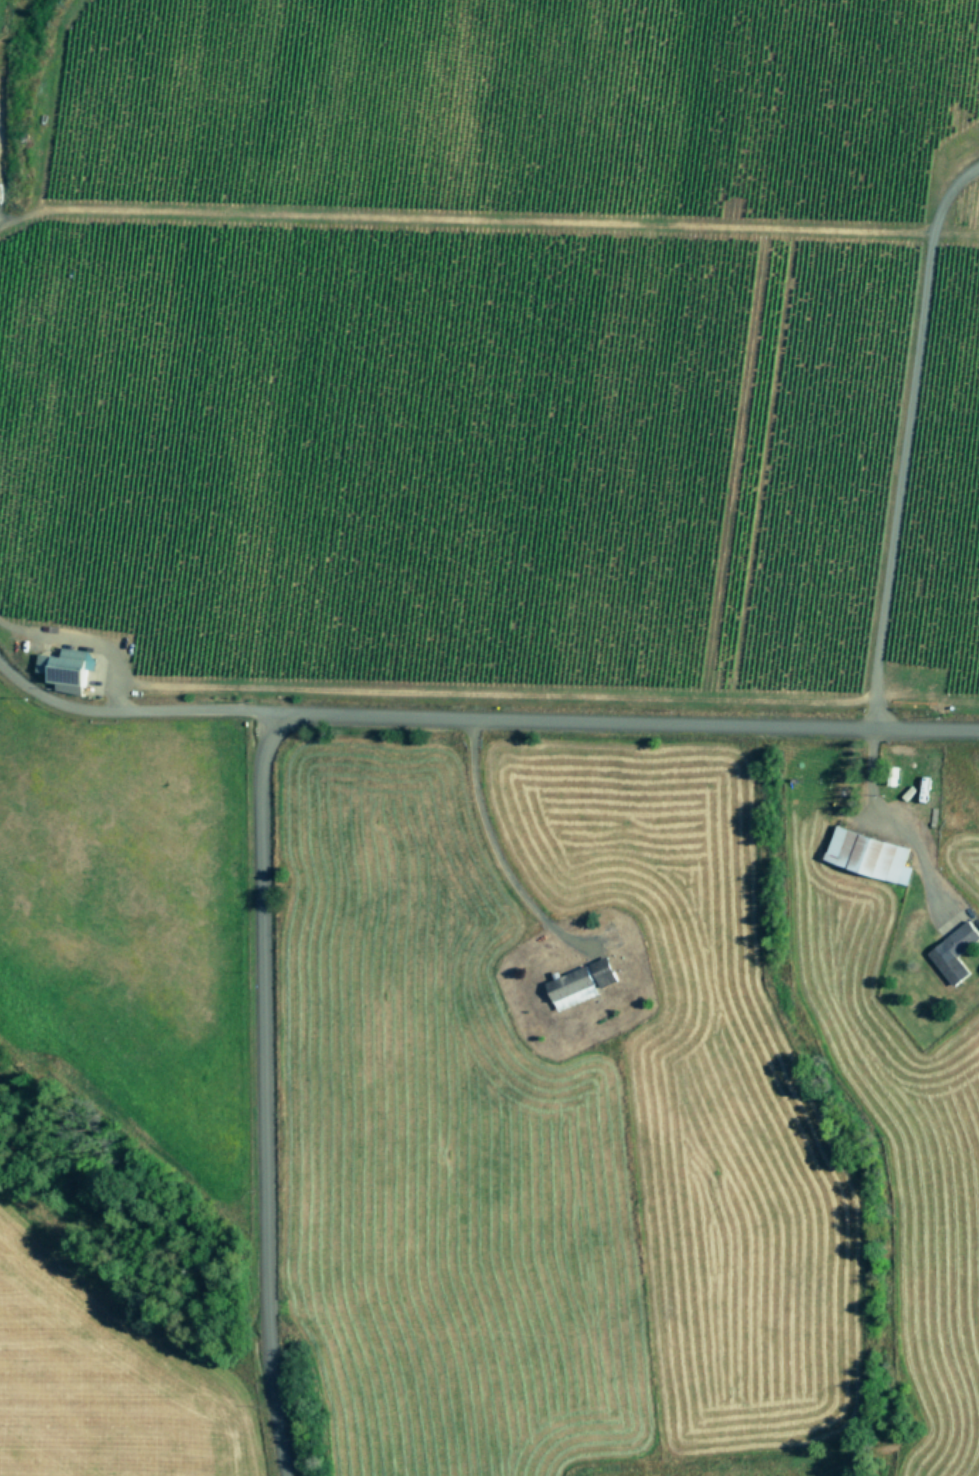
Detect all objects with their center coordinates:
road: (892, 427)
road: (84, 637)
road: (132, 709)
road: (261, 744)
road: (885, 816)
road: (495, 848)
building: (871, 854)
building: (957, 952)
building: (607, 971)
building: (575, 987)

